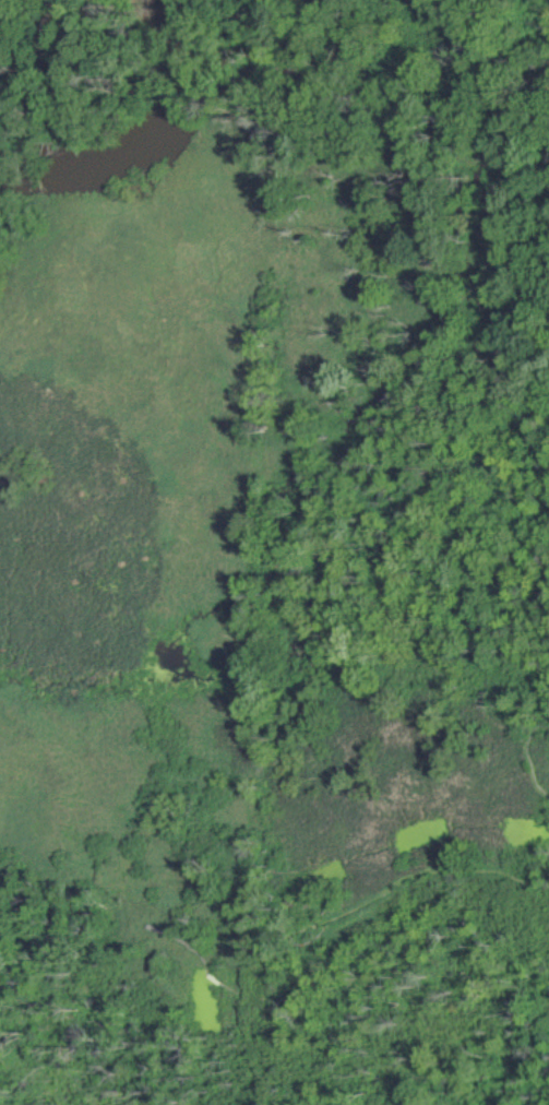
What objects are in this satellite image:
river: (144, 145)
road: (535, 733)
road: (537, 865)
road: (327, 916)
road: (217, 977)

